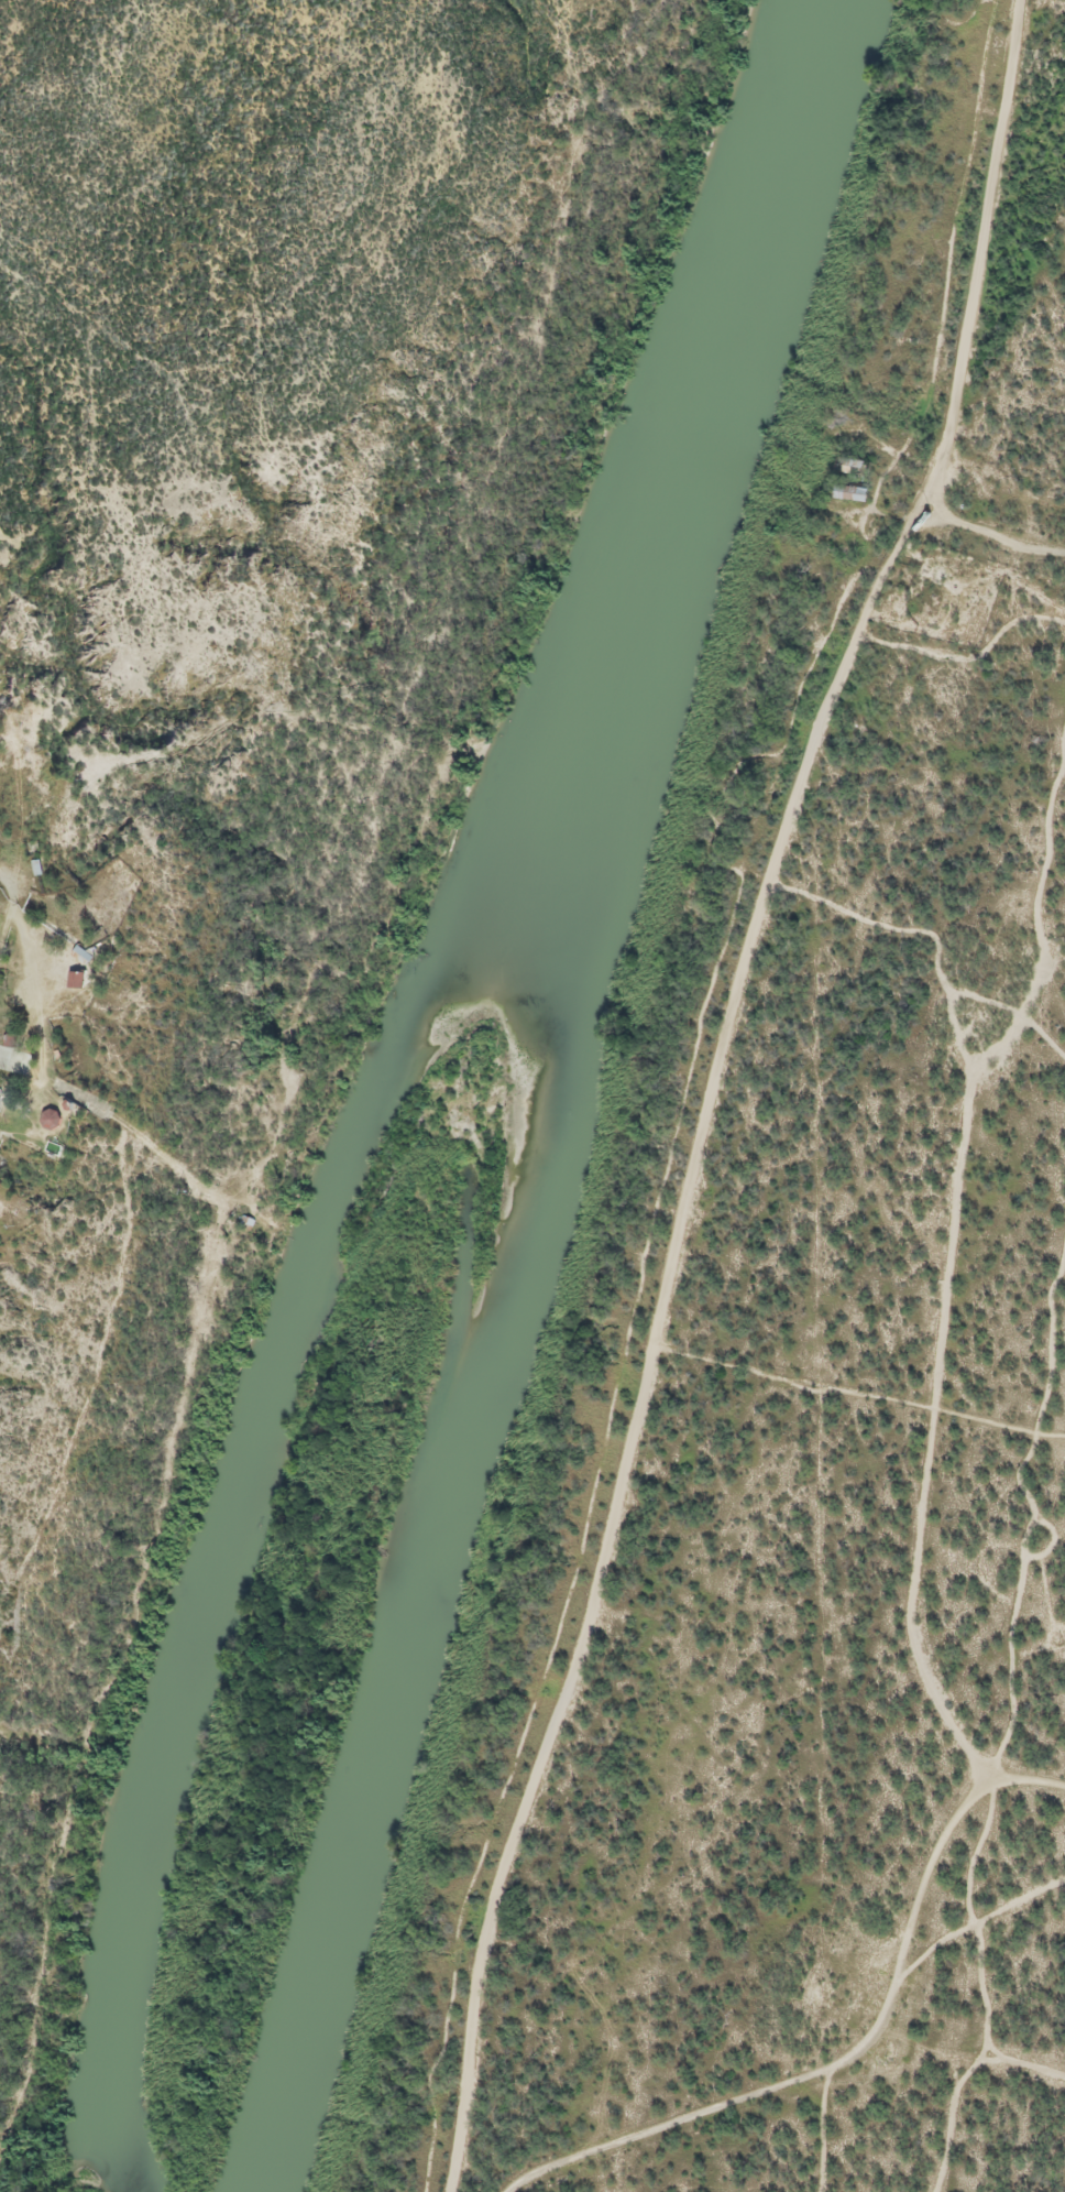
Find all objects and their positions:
building: (847, 460)
building: (852, 488)
road: (1015, 532)
road: (12, 910)
building: (78, 975)
river: (527, 1092)
building: (1, 1093)

